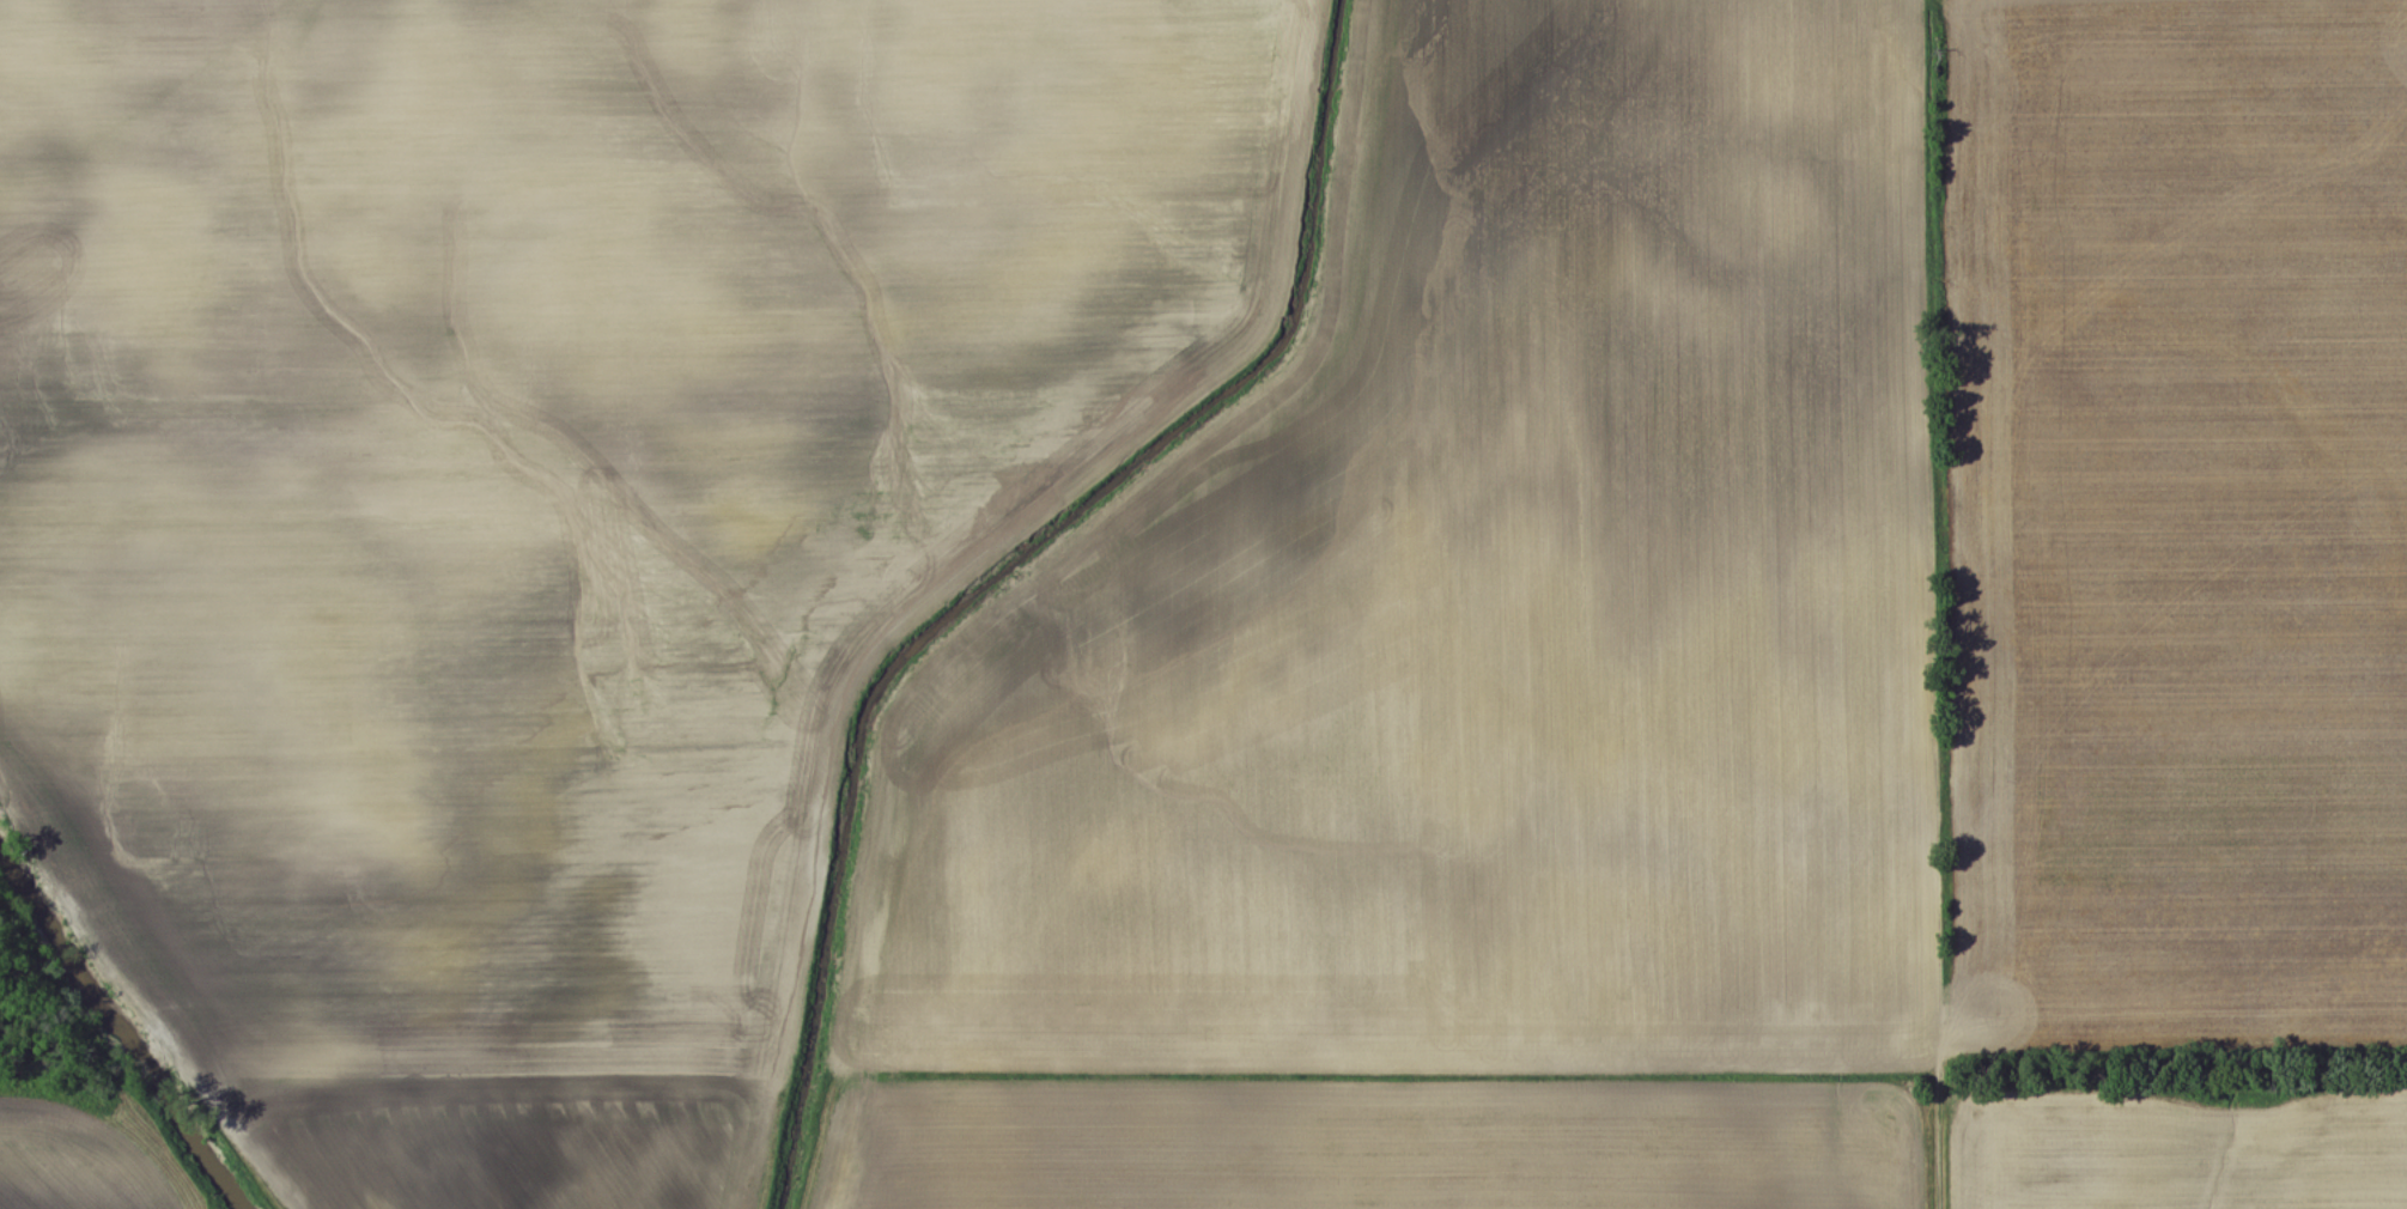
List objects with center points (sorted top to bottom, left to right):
road: (1927, 604)

